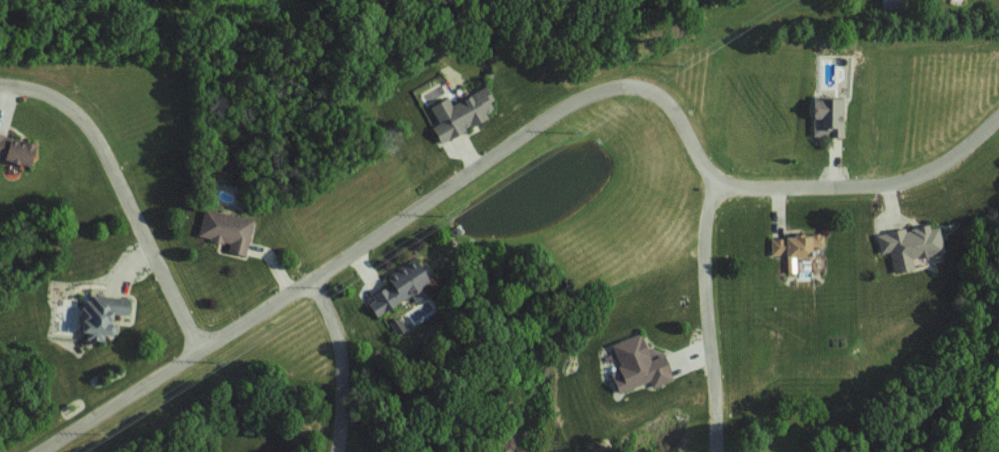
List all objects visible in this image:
building: (464, 114)
building: (829, 117)
road: (513, 141)
building: (19, 150)
road: (120, 187)
building: (227, 229)
building: (796, 244)
building: (912, 244)
building: (403, 285)
building: (105, 314)
road: (708, 318)
road: (343, 359)
building: (641, 363)

